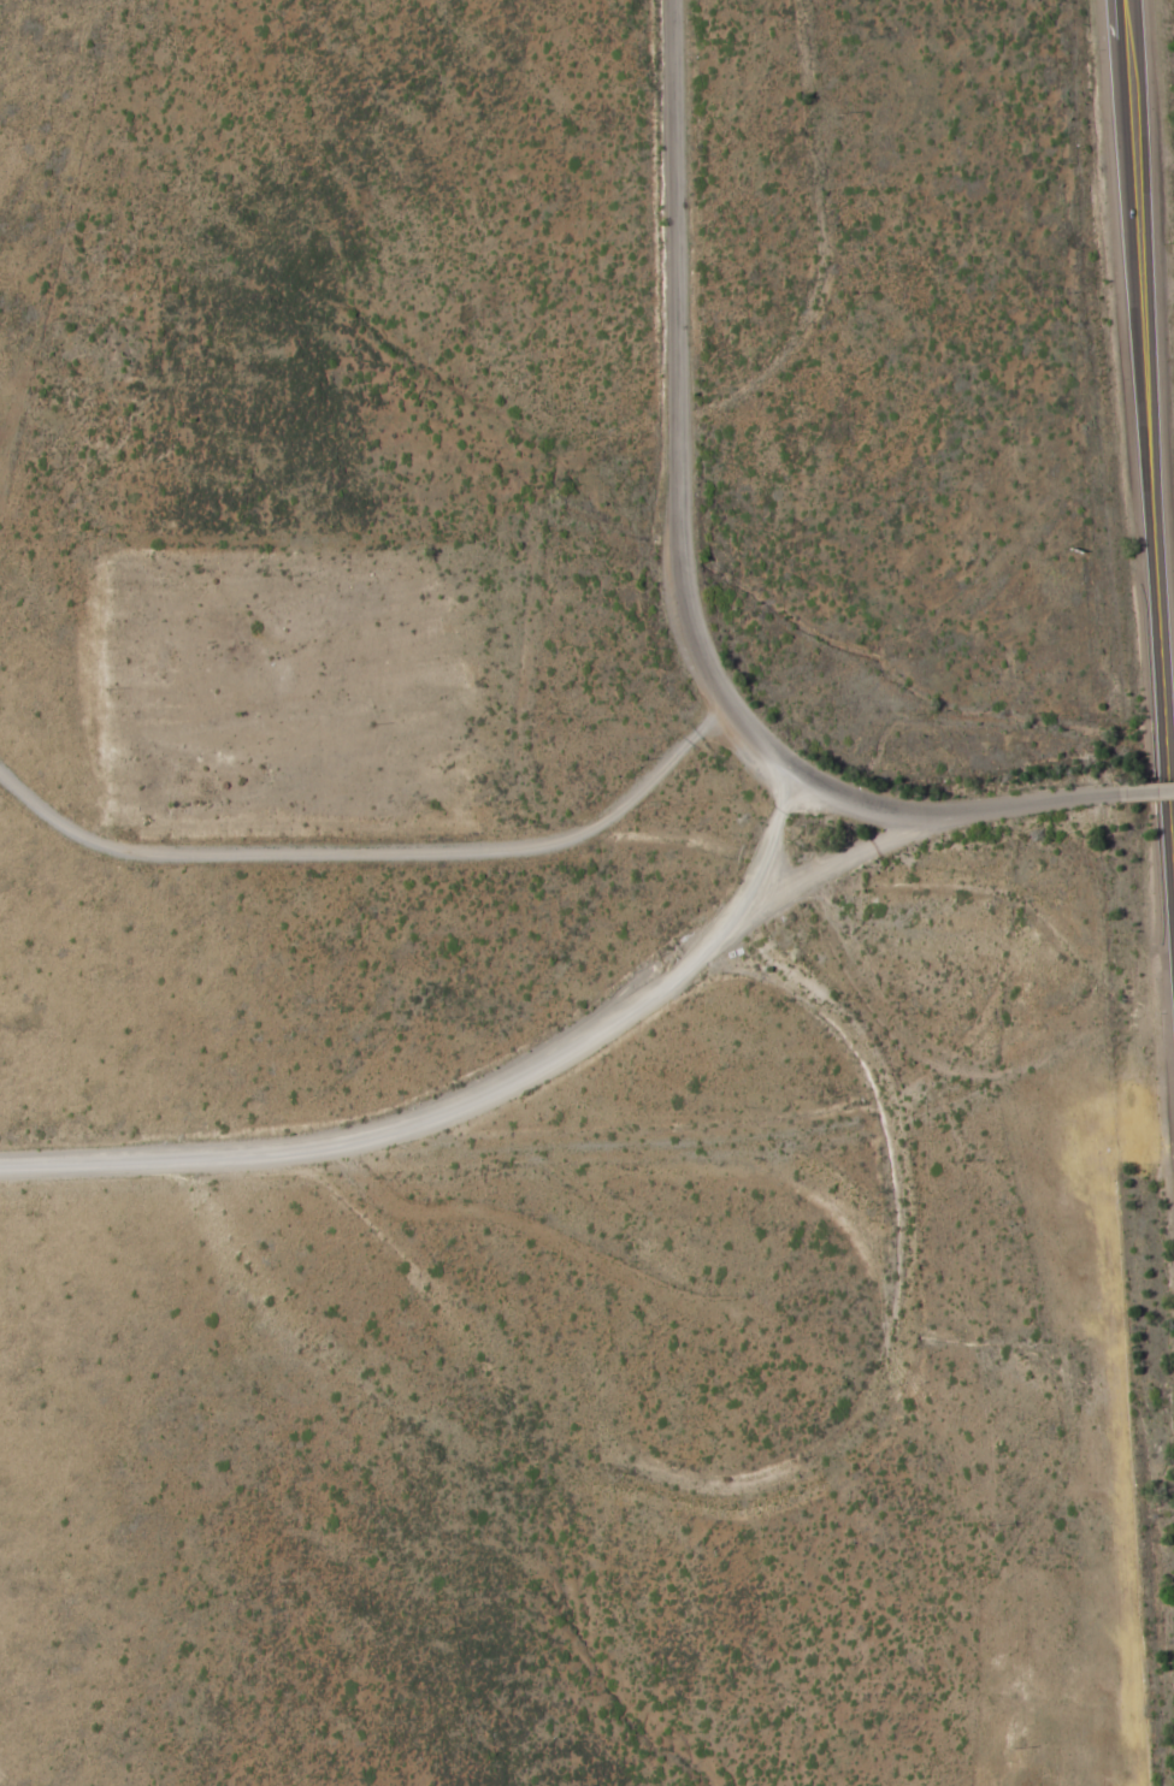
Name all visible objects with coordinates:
road: (1149, 440)
road: (688, 566)
road: (1145, 791)

